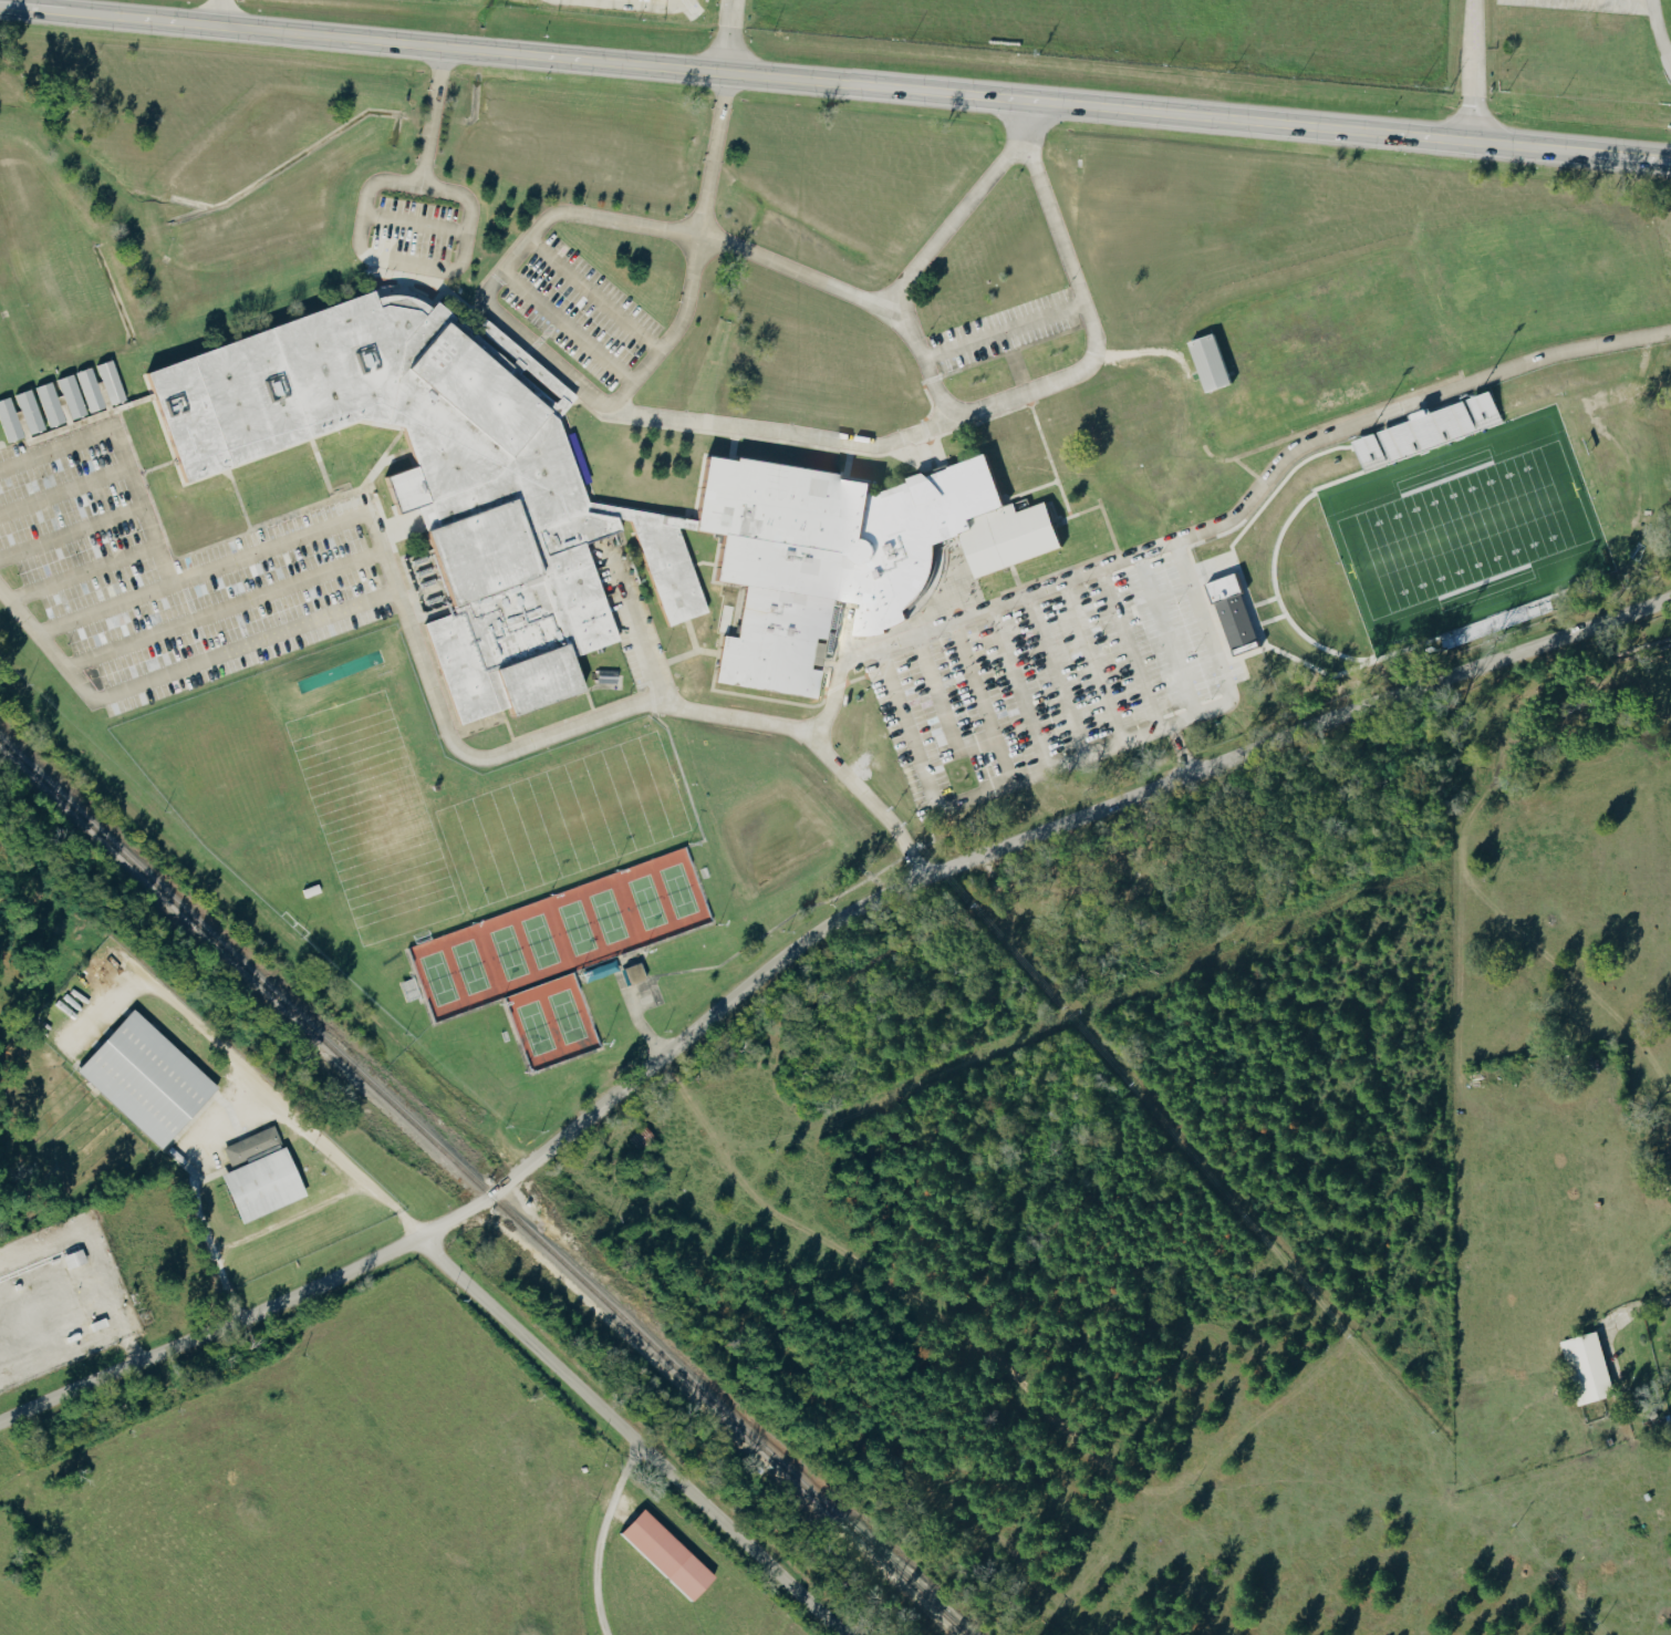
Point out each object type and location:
road: (1623, 2)
road: (1658, 2)
road: (56, 9)
road: (219, 12)
road: (1661, 31)
road: (730, 37)
road: (1473, 71)
road: (844, 84)
road: (714, 155)
road: (1623, 156)
road: (416, 223)
road: (947, 223)
road: (363, 235)
parking lot: (414, 235)
road: (589, 303)
parking lot: (577, 323)
road: (568, 329)
parking lot: (1001, 330)
road: (1001, 331)
road: (522, 337)
building: (1203, 362)
building: (107, 381)
building: (86, 389)
building: (68, 395)
road: (1000, 401)
building: (46, 403)
road: (133, 404)
building: (25, 411)
road: (1348, 415)
building: (7, 420)
building: (1422, 430)
road: (781, 433)
road: (1038, 433)
road: (384, 458)
road: (151, 464)
road: (1243, 467)
road: (322, 476)
building: (438, 478)
road: (1027, 489)
road: (63, 491)
road: (240, 505)
road: (1075, 514)
road: (1283, 524)
road: (1232, 527)
stadium: (1452, 527)
park: (1464, 529)
road: (1108, 531)
road: (71, 534)
building: (840, 553)
road: (181, 567)
parking lot: (176, 575)
road: (83, 576)
road: (113, 608)
road: (227, 613)
building: (1229, 613)
building: (1497, 619)
road: (630, 633)
road: (1120, 651)
road: (1078, 666)
building: (605, 675)
parking lot: (1017, 691)
road: (963, 707)
road: (440, 708)
road: (903, 726)
park: (371, 816)
park: (560, 819)
road: (799, 943)
road: (667, 975)
parking lot: (634, 993)
road: (634, 1020)
road: (248, 1073)
building: (153, 1079)
building: (266, 1174)
railway: (481, 1188)
road: (193, 1194)
road: (1662, 1297)
road: (112, 1301)
building: (1669, 1358)
building: (1585, 1368)
road: (636, 1436)
road: (600, 1534)
building: (673, 1556)

